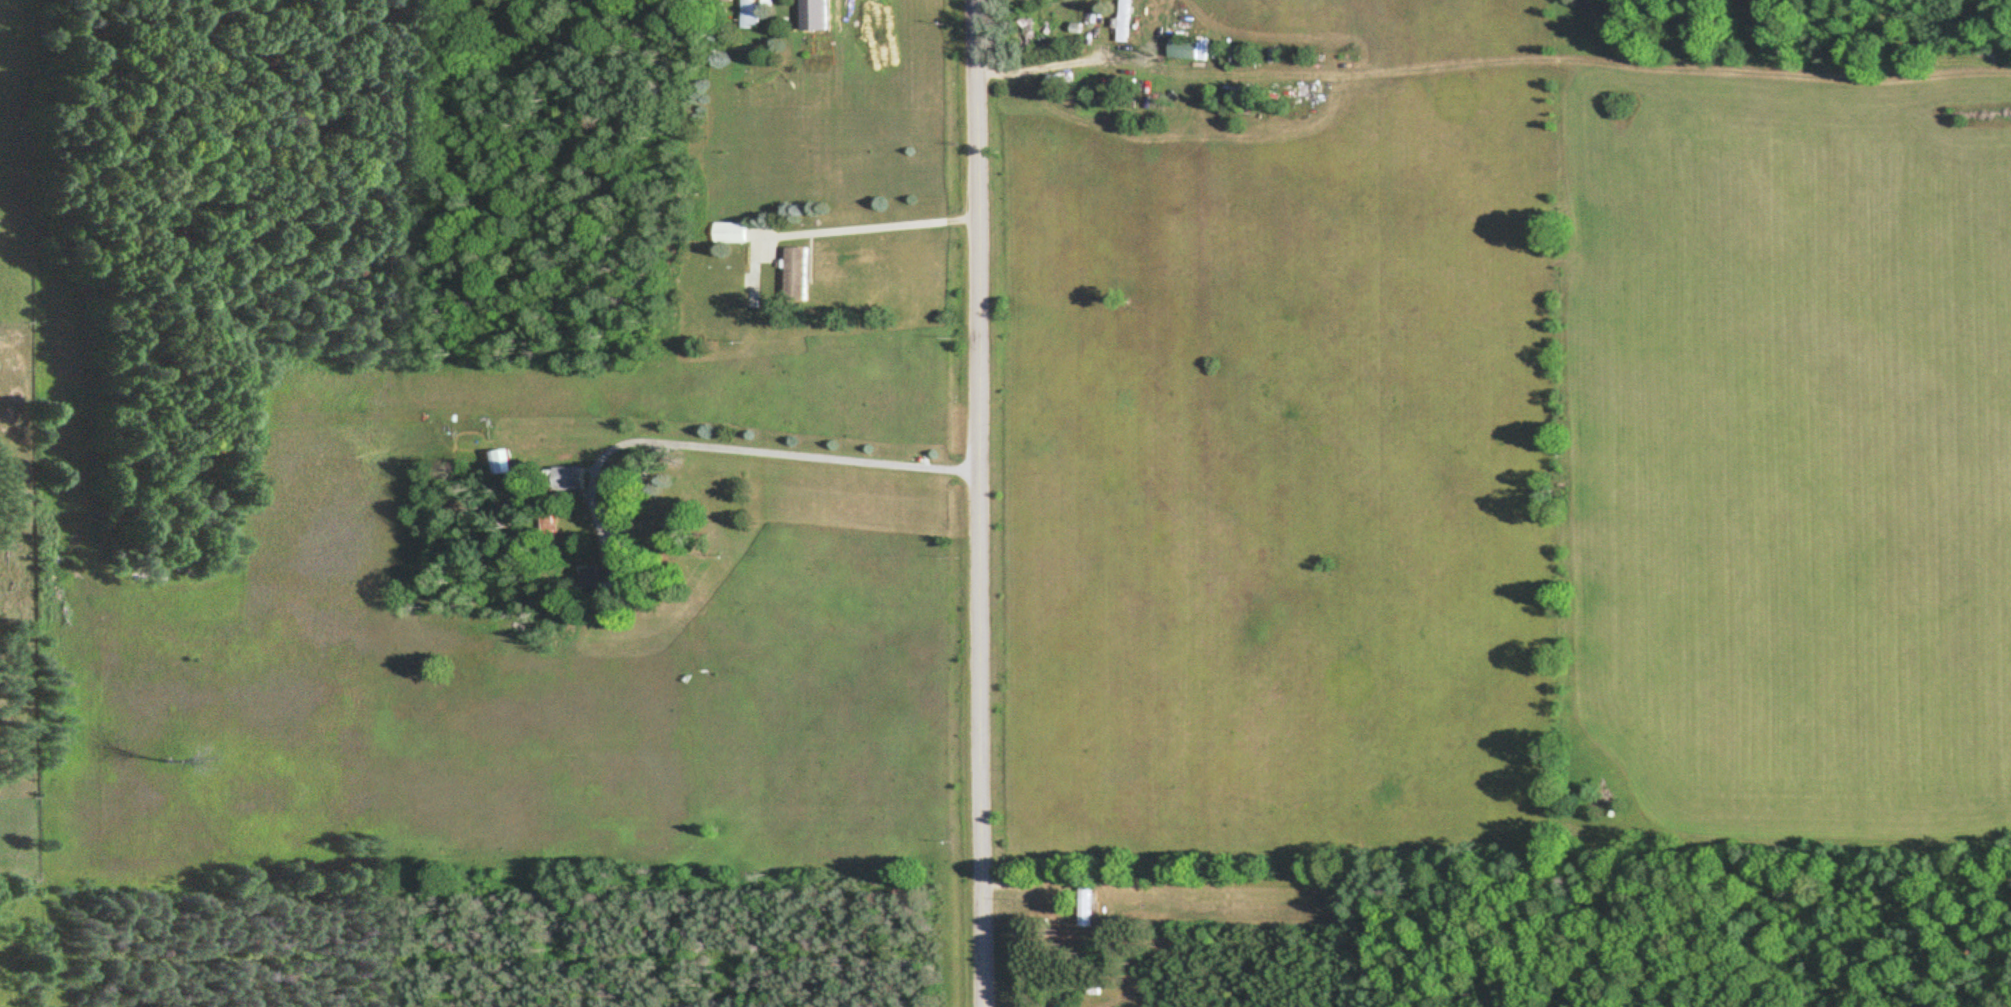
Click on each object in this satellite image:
building: (749, 12)
building: (1120, 21)
building: (1024, 30)
building: (1085, 41)
building: (1181, 50)
building: (726, 232)
building: (792, 273)
building: (560, 479)
road: (985, 503)
building: (543, 521)
building: (593, 576)
building: (1082, 904)

